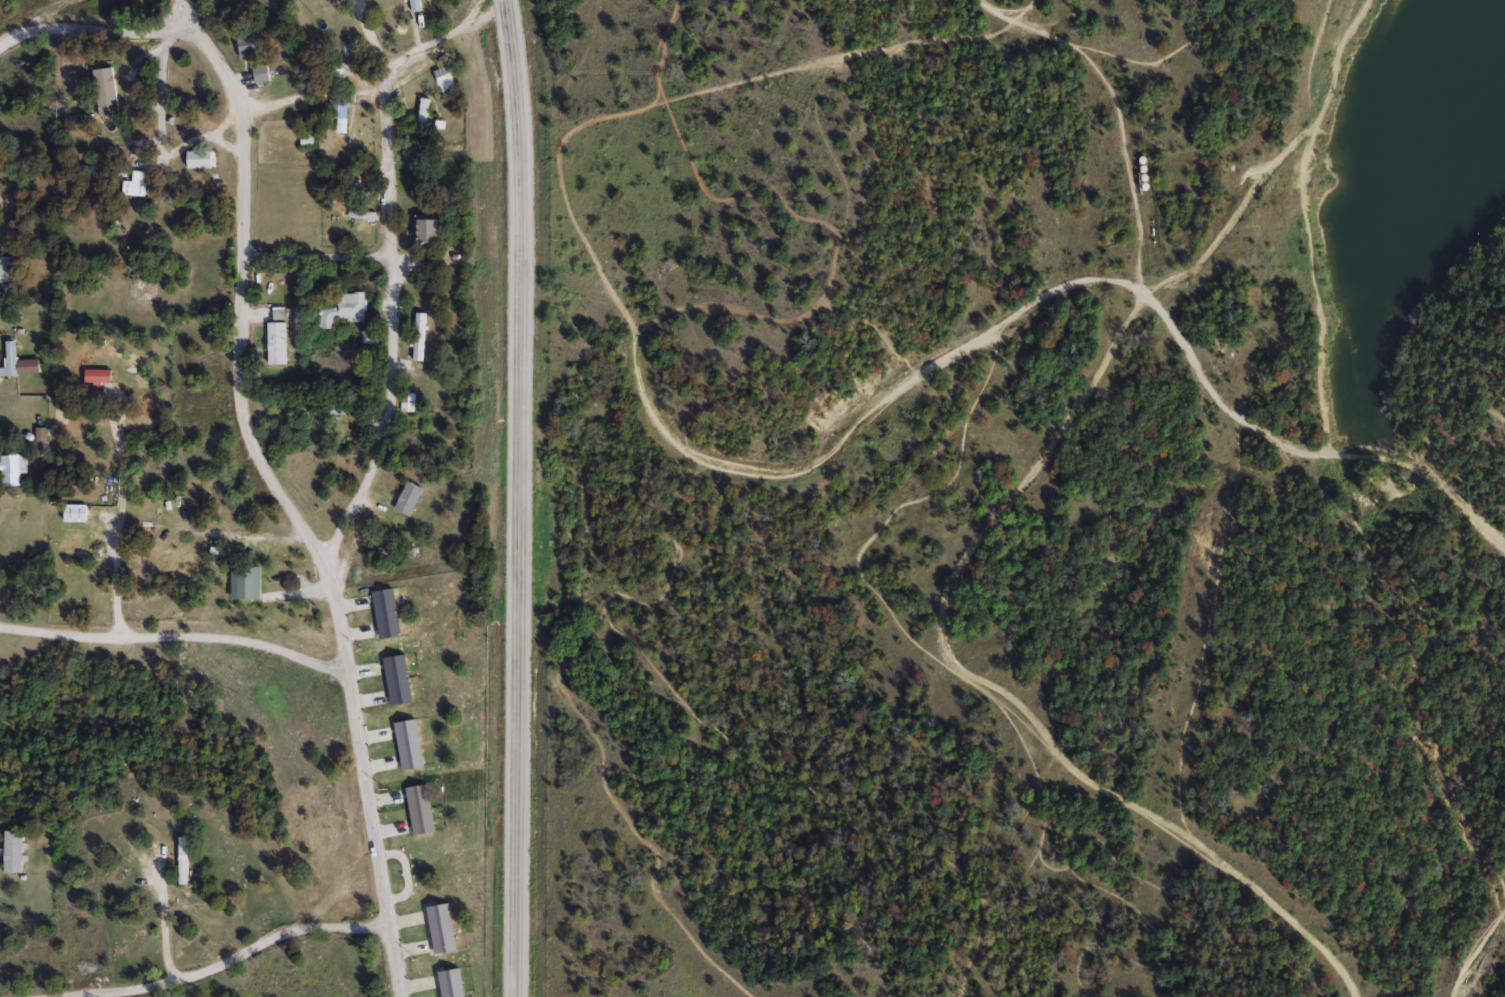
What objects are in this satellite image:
building: (414, 5)
road: (94, 31)
road: (442, 39)
road: (168, 44)
building: (253, 44)
building: (347, 50)
building: (262, 73)
building: (443, 77)
building: (106, 91)
road: (1116, 112)
building: (338, 115)
building: (421, 119)
road: (156, 144)
road: (224, 146)
building: (201, 158)
building: (93, 167)
building: (136, 183)
building: (352, 188)
building: (361, 214)
road: (1231, 221)
building: (426, 229)
road: (314, 256)
building: (8, 267)
building: (343, 310)
road: (387, 333)
building: (418, 336)
building: (277, 343)
building: (11, 359)
building: (93, 371)
road: (895, 397)
building: (406, 402)
road: (1318, 457)
building: (11, 469)
road: (280, 493)
building: (409, 498)
road: (518, 498)
building: (76, 513)
road: (120, 545)
building: (214, 573)
building: (271, 596)
building: (387, 613)
road: (170, 639)
building: (397, 680)
road: (989, 691)
building: (408, 745)
building: (419, 810)
building: (14, 852)
building: (182, 860)
road: (164, 924)
building: (440, 929)
road: (231, 957)
building: (450, 983)

